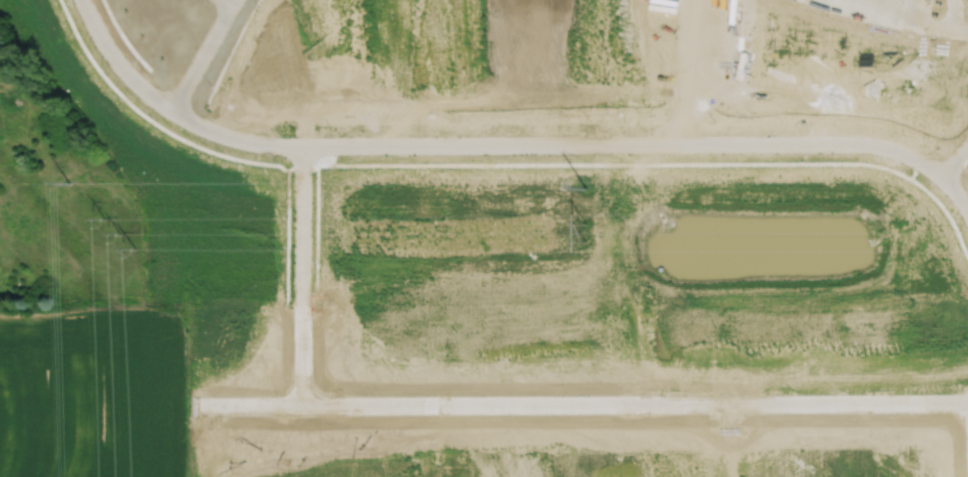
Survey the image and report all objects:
road: (227, 3)
road: (911, 20)
road: (199, 56)
road: (497, 147)
road: (954, 162)
power tower: (70, 181)
power tower: (586, 188)
power tower: (585, 228)
power tower: (121, 234)
road: (302, 275)
road: (585, 404)

